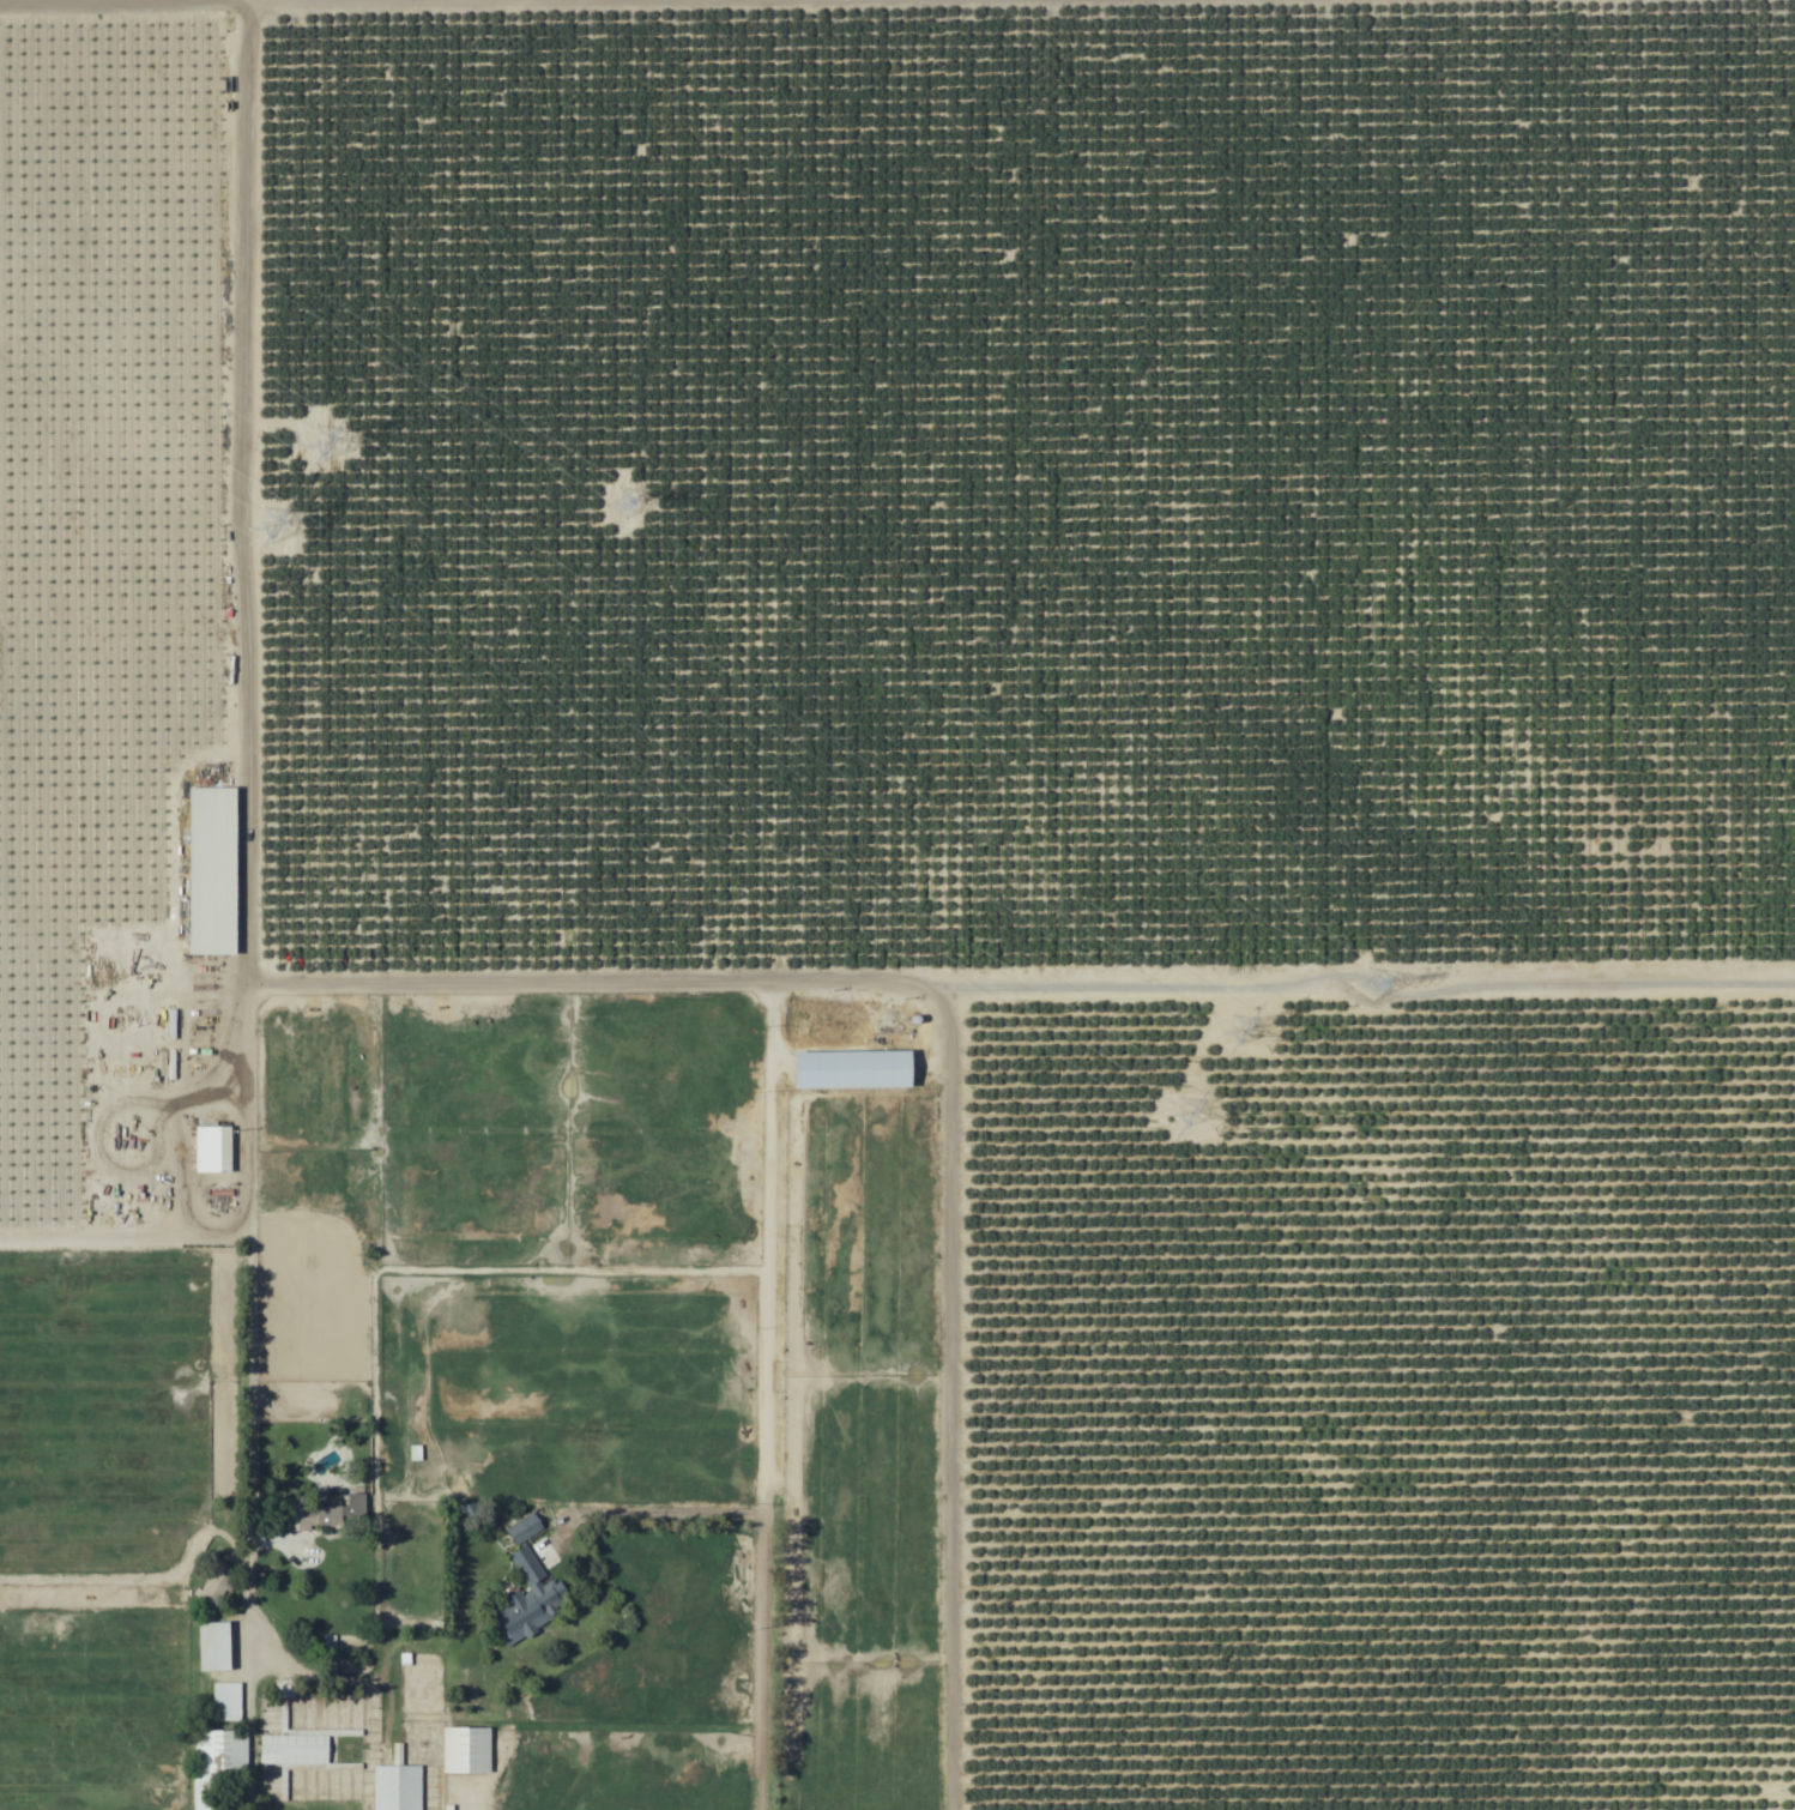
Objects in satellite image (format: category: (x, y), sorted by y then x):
power tower: (336, 453)
power tower: (620, 500)
power tower: (291, 542)
building: (212, 871)
crop: (897, 905)
power tower: (1370, 981)
power tower: (1249, 1042)
building: (858, 1070)
power tower: (1202, 1121)
building: (212, 1150)
road: (772, 1408)
road: (949, 1423)
building: (332, 1513)
road: (664, 1514)
building: (530, 1589)
building: (216, 1648)
building: (225, 1702)
building: (467, 1751)
building: (290, 1760)
building: (218, 1767)
building: (397, 1788)

